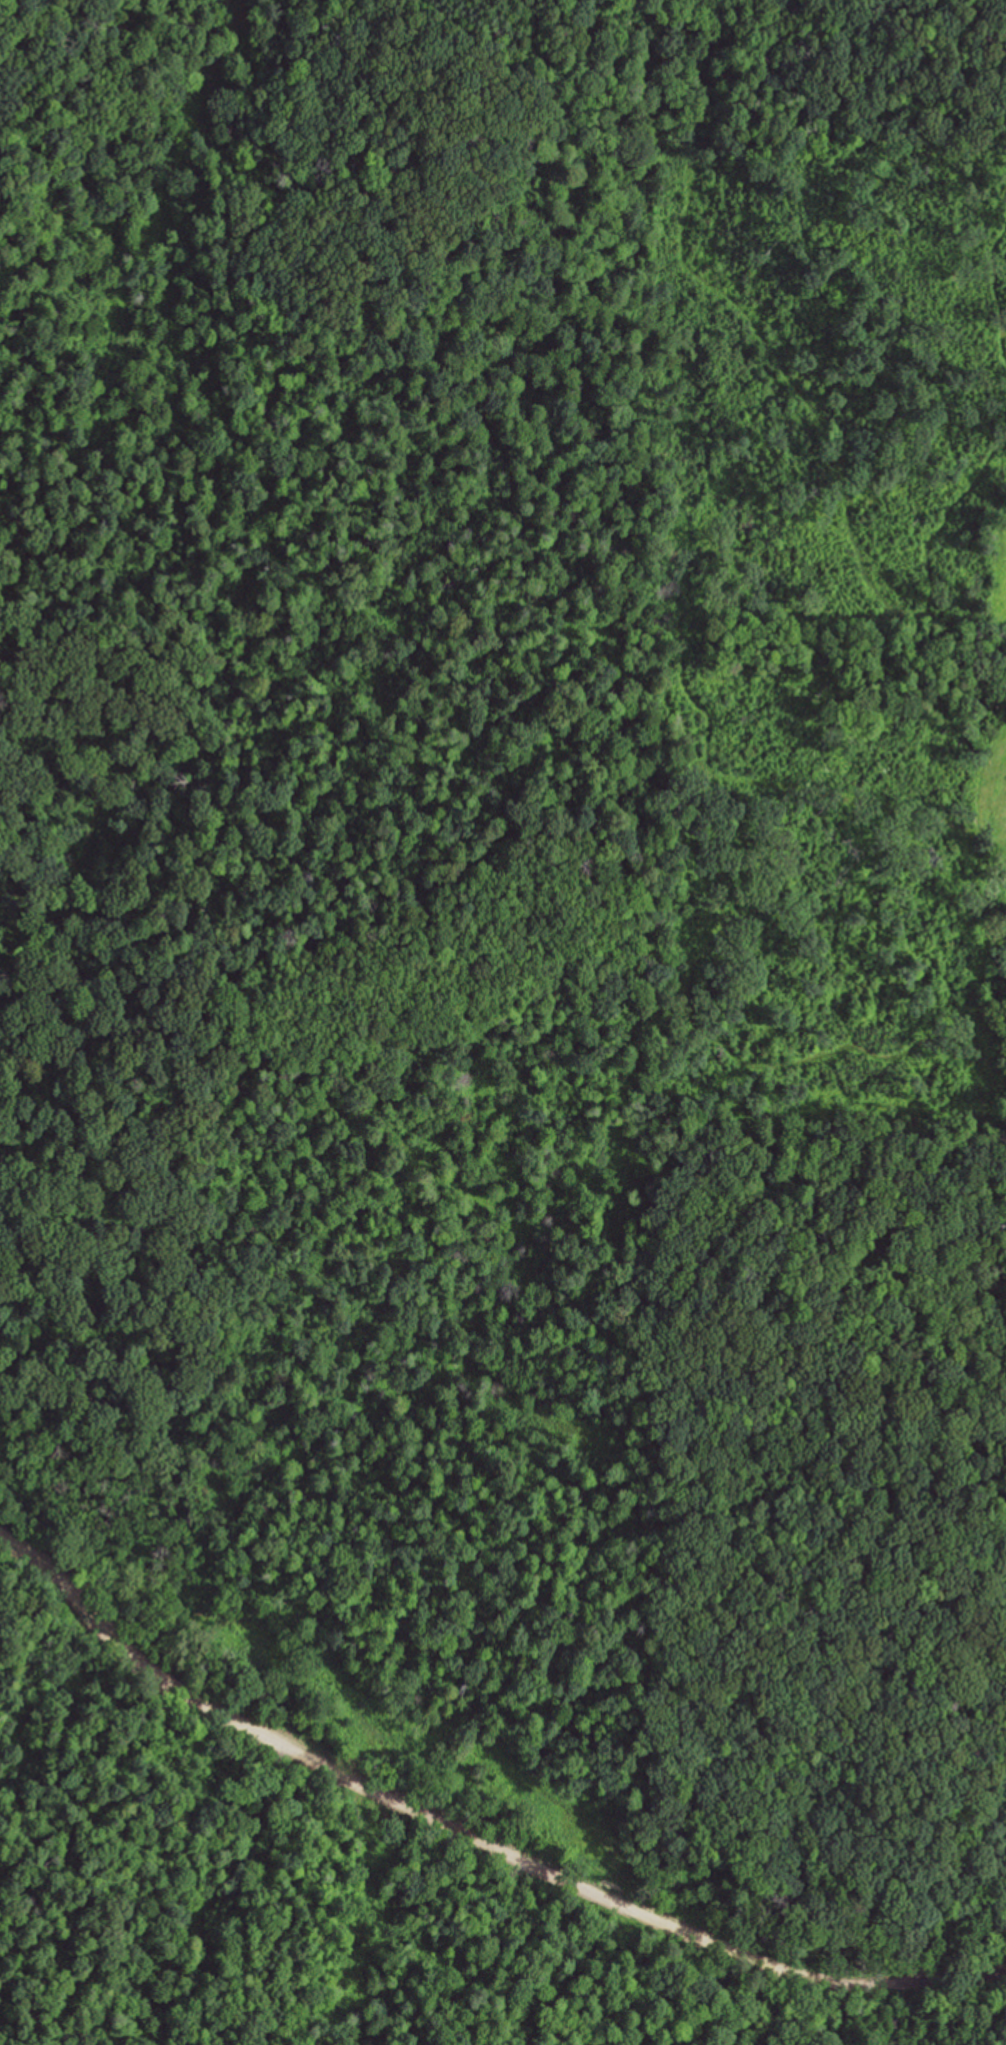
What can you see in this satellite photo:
road: (469, 1834)

